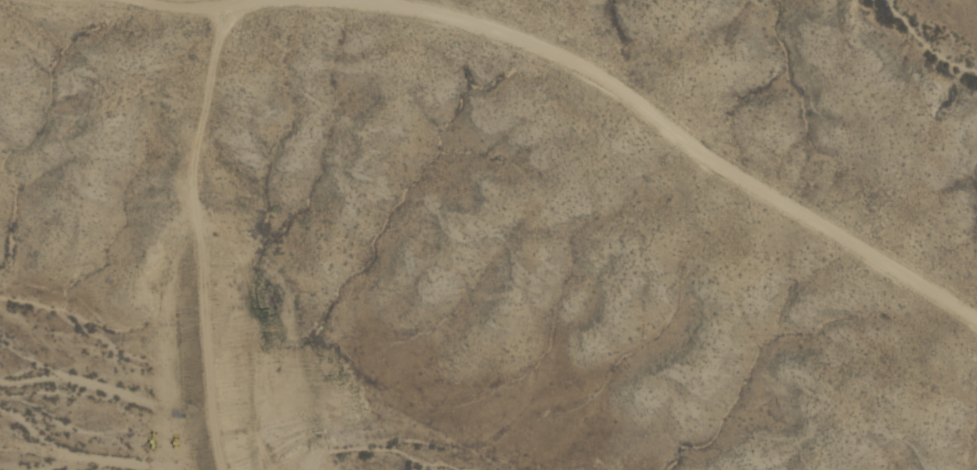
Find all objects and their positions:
road: (197, 6)
road: (664, 122)
road: (199, 239)

